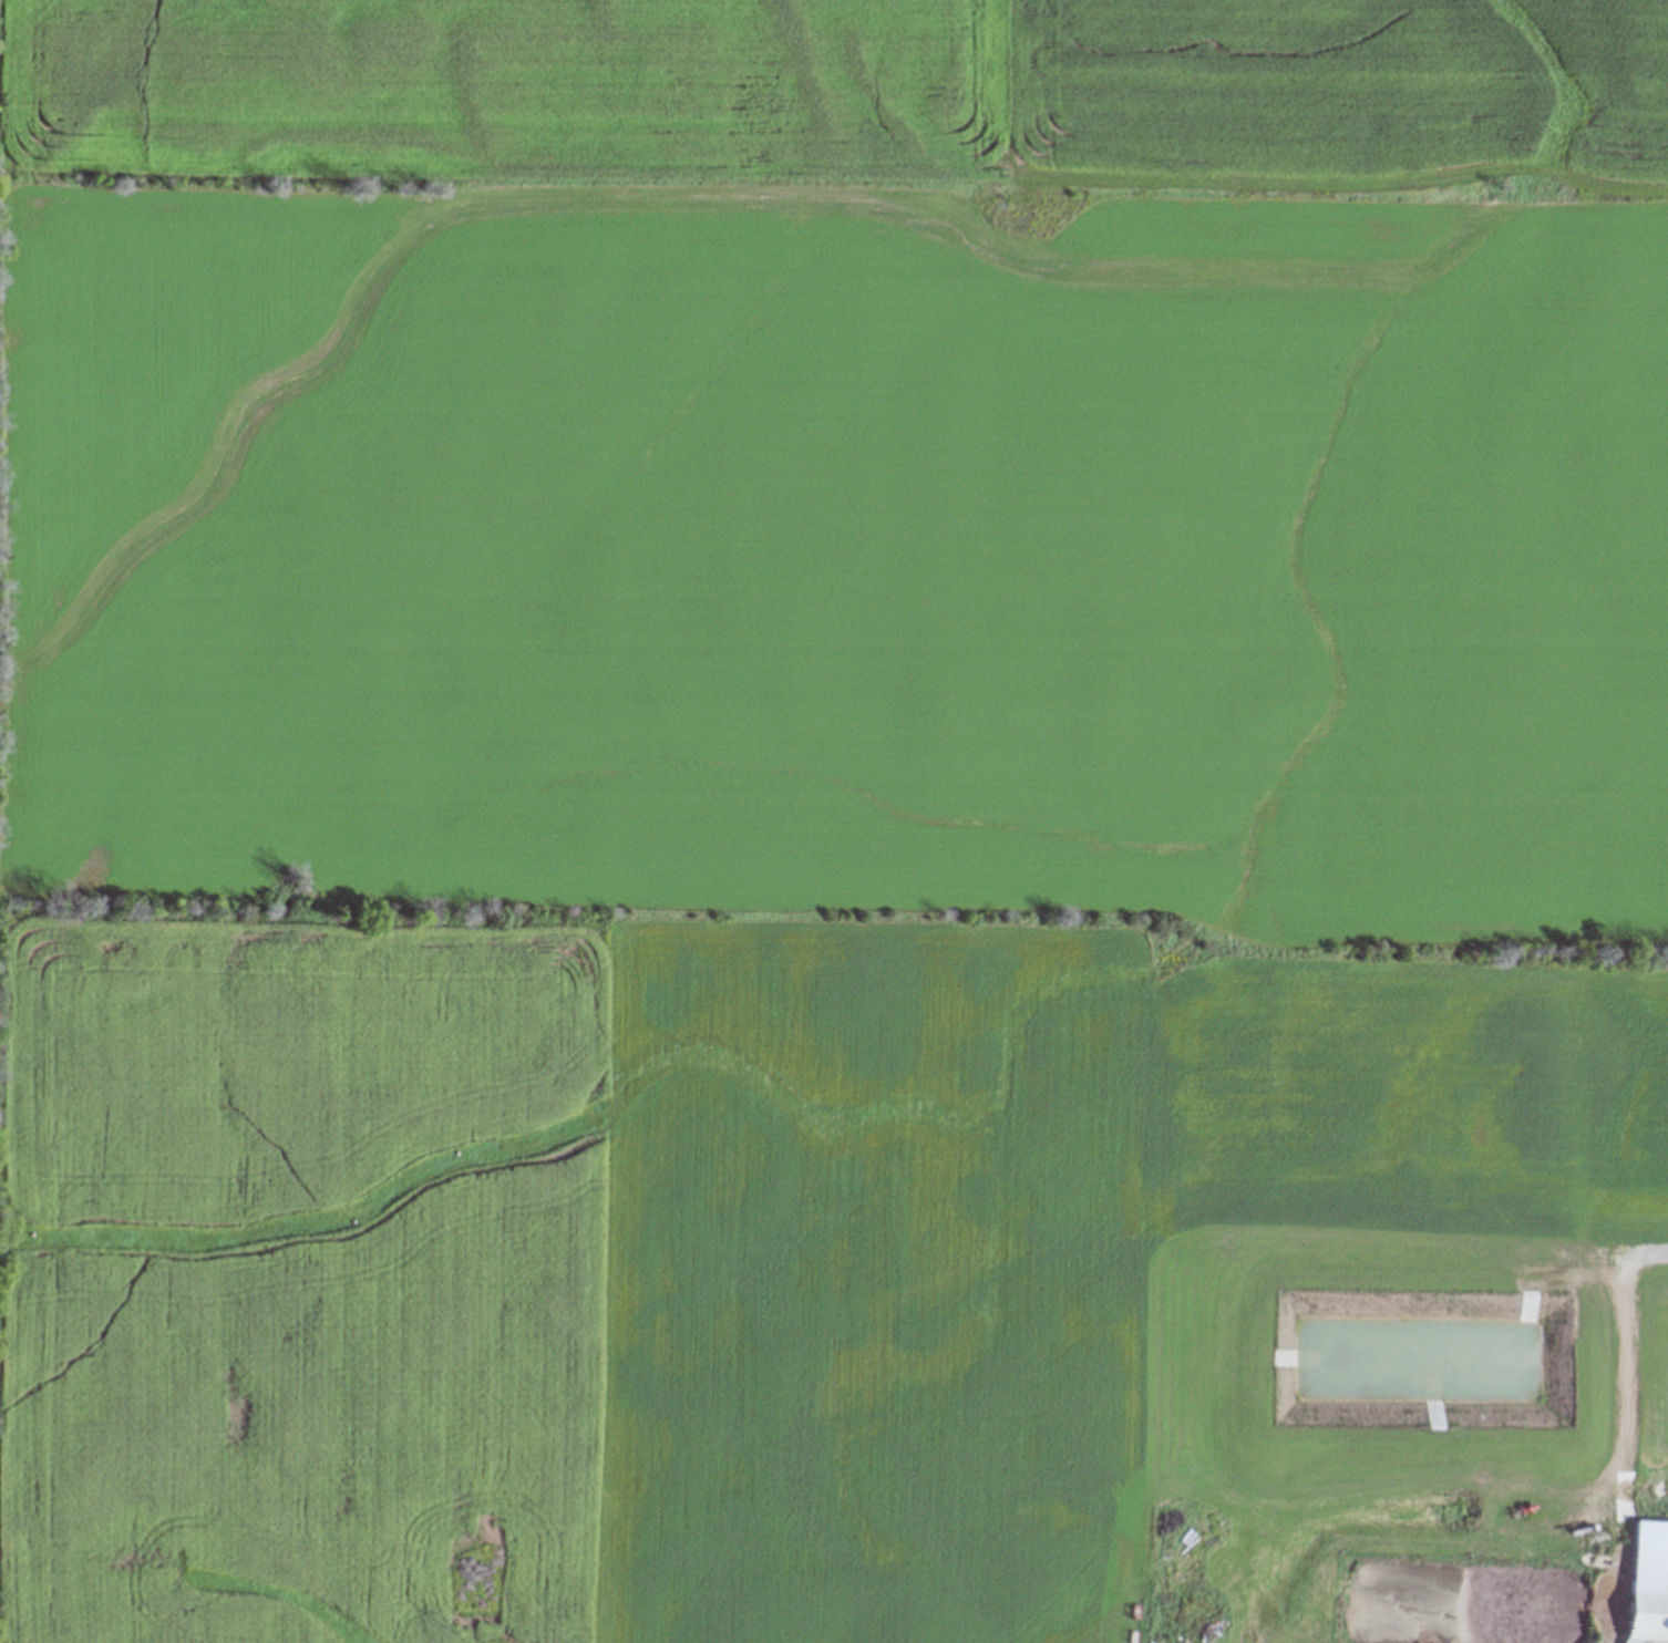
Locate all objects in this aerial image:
building: (1645, 1600)

